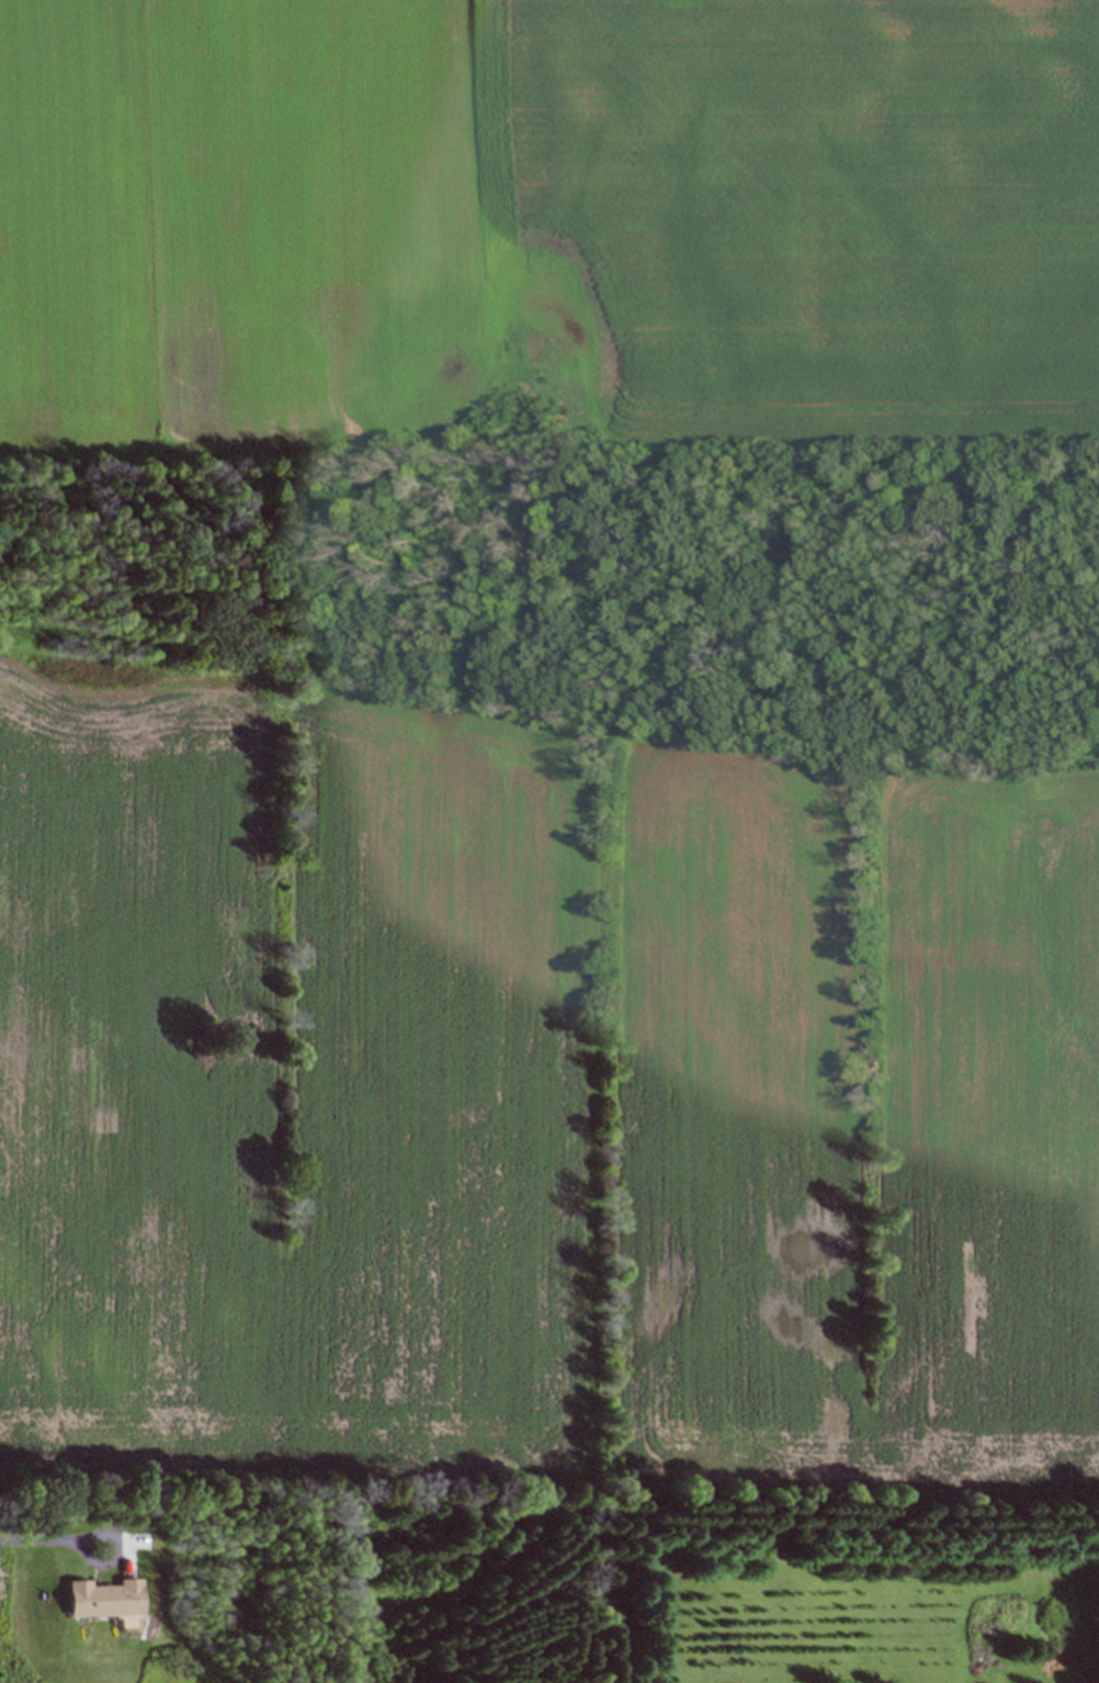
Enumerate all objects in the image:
crop: (545, 226)
crop: (532, 1097)
park: (699, 1590)
building: (106, 1597)

